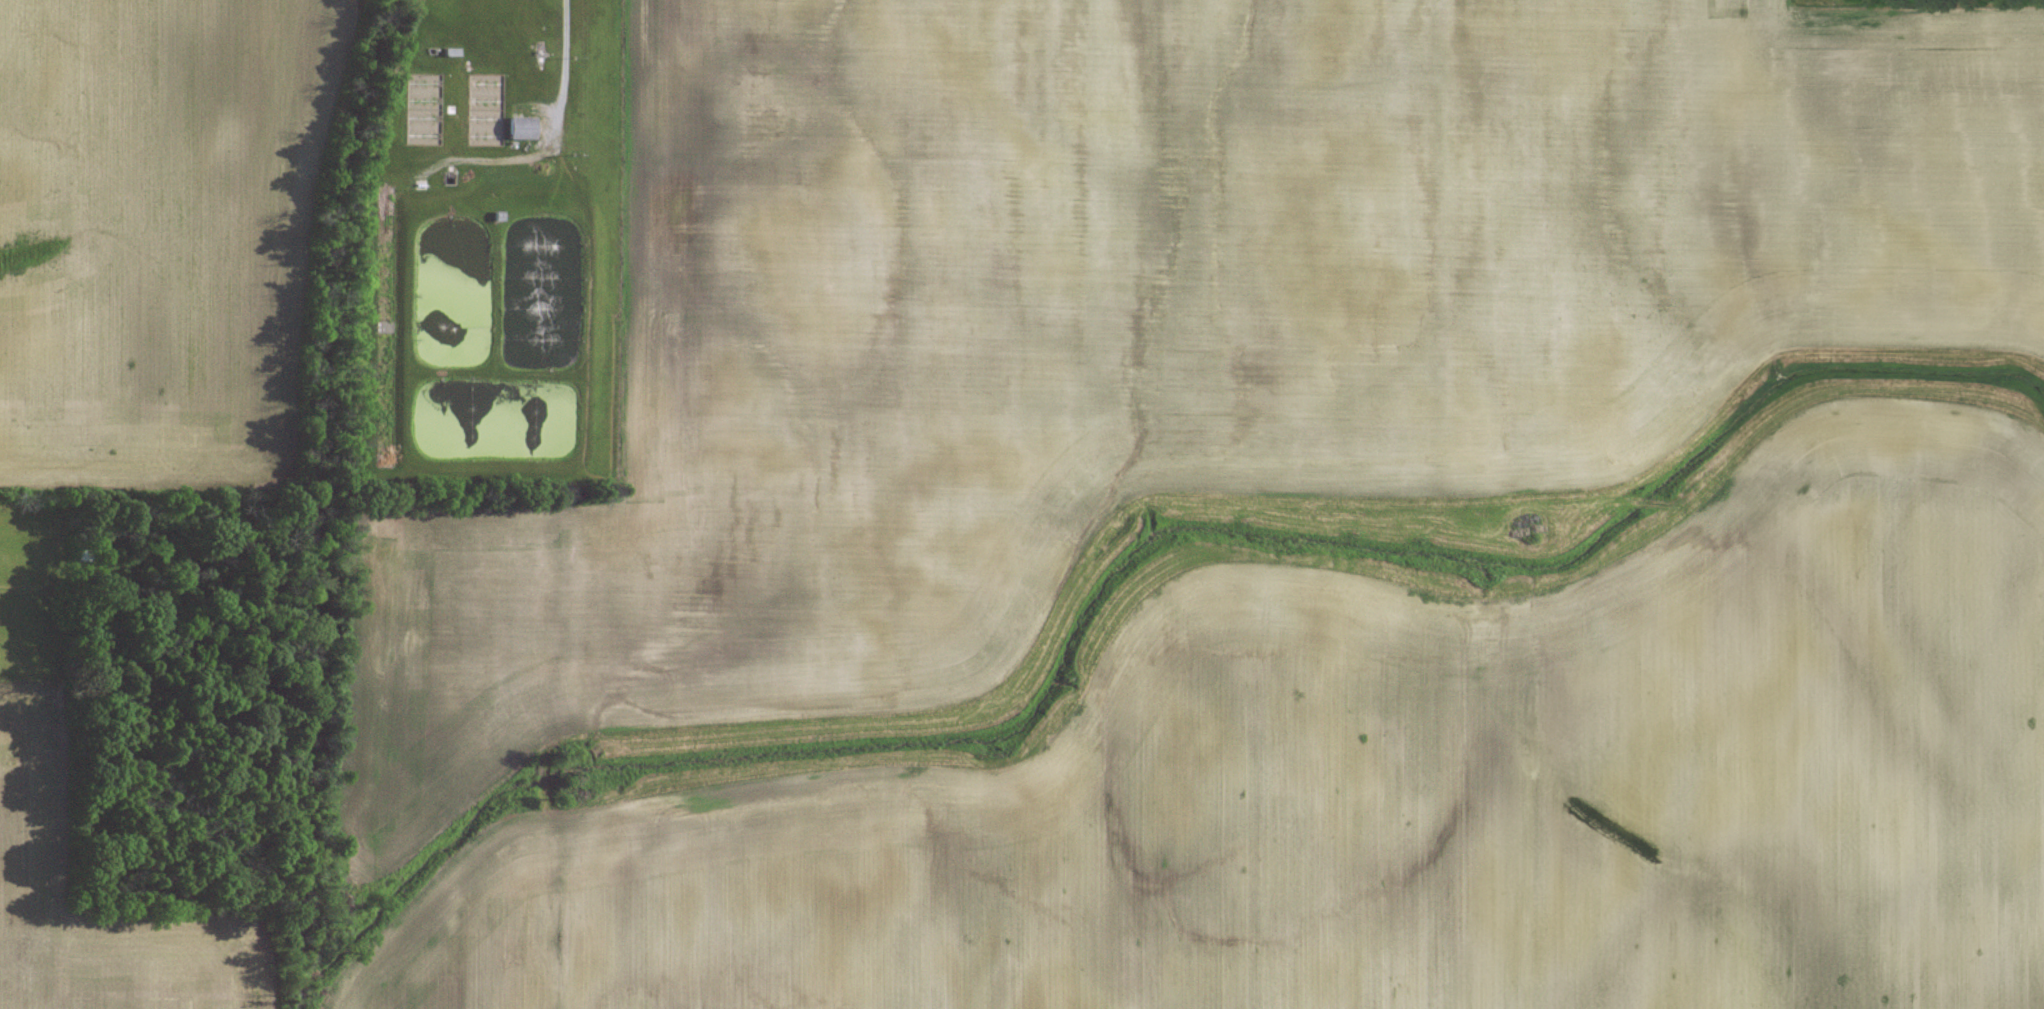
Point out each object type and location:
road: (561, 44)
building: (519, 128)

